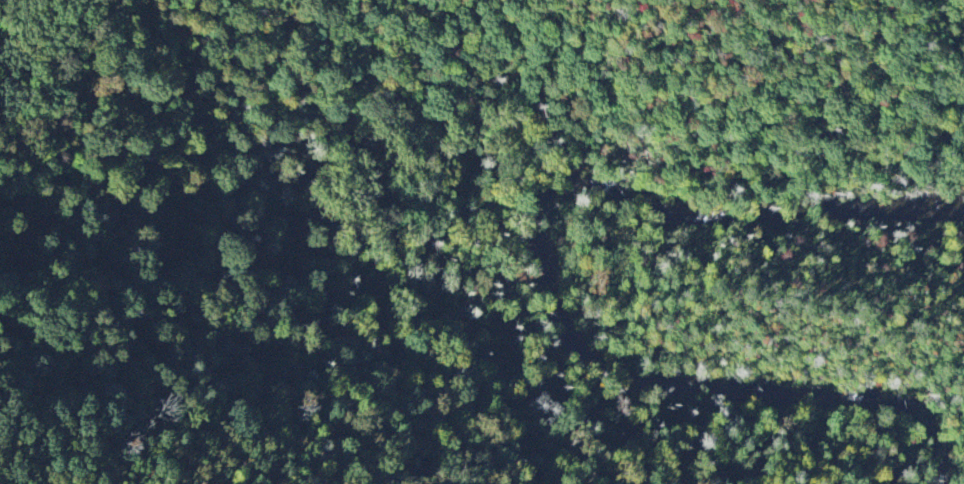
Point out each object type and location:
river: (547, 278)

